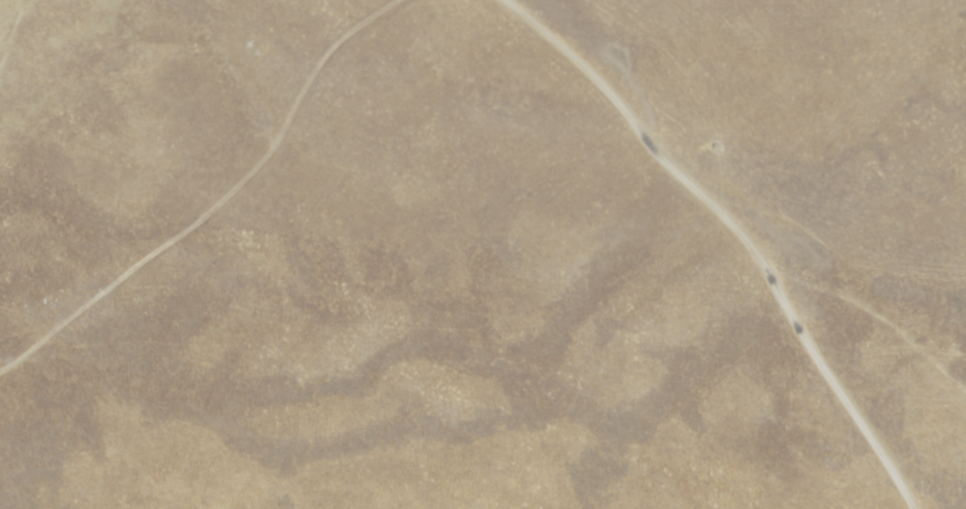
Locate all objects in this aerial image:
road: (716, 224)

